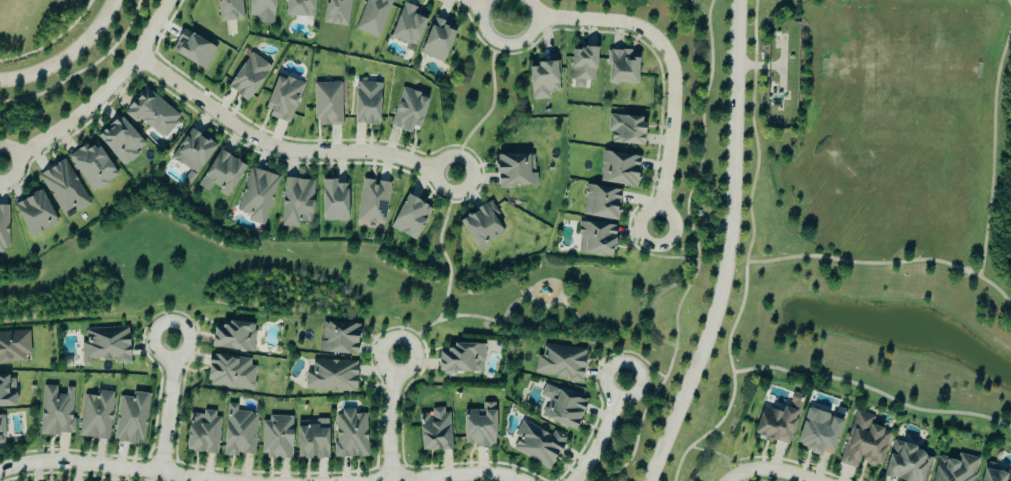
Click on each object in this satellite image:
road: (475, 4)
road: (1008, 6)
building: (298, 8)
building: (228, 10)
building: (261, 10)
building: (336, 12)
building: (372, 17)
building: (406, 26)
park: (39, 28)
building: (436, 40)
road: (509, 43)
building: (191, 50)
road: (68, 55)
building: (581, 66)
building: (620, 67)
road: (83, 68)
road: (672, 70)
building: (247, 77)
building: (541, 79)
road: (100, 96)
building: (282, 98)
building: (365, 103)
building: (327, 104)
building: (407, 110)
building: (152, 113)
park: (903, 127)
building: (624, 129)
building: (119, 140)
road: (283, 147)
building: (191, 152)
road: (996, 152)
building: (90, 166)
building: (618, 169)
building: (512, 171)
building: (220, 174)
building: (63, 188)
building: (256, 196)
building: (333, 201)
building: (295, 202)
building: (372, 202)
building: (599, 202)
building: (34, 213)
building: (409, 218)
building: (480, 226)
building: (3, 228)
road: (632, 236)
building: (594, 239)
road: (731, 247)
road: (886, 266)
road: (750, 271)
road: (653, 312)
road: (168, 322)
road: (591, 327)
road: (570, 330)
road: (681, 331)
building: (232, 336)
building: (338, 338)
road: (400, 338)
building: (104, 345)
building: (13, 347)
building: (460, 359)
building: (559, 363)
building: (229, 373)
building: (330, 376)
road: (812, 379)
road: (596, 380)
building: (6, 391)
building: (561, 407)
building: (55, 411)
building: (95, 416)
road: (167, 416)
building: (130, 419)
building: (774, 425)
building: (477, 426)
road: (390, 427)
building: (1, 431)
building: (434, 431)
building: (238, 432)
building: (817, 432)
building: (201, 433)
road: (605, 433)
building: (349, 435)
building: (275, 438)
building: (310, 439)
building: (863, 442)
building: (536, 444)
road: (717, 456)
building: (906, 464)
road: (105, 465)
road: (774, 469)
building: (954, 469)
building: (993, 473)
road: (463, 476)
road: (732, 478)

